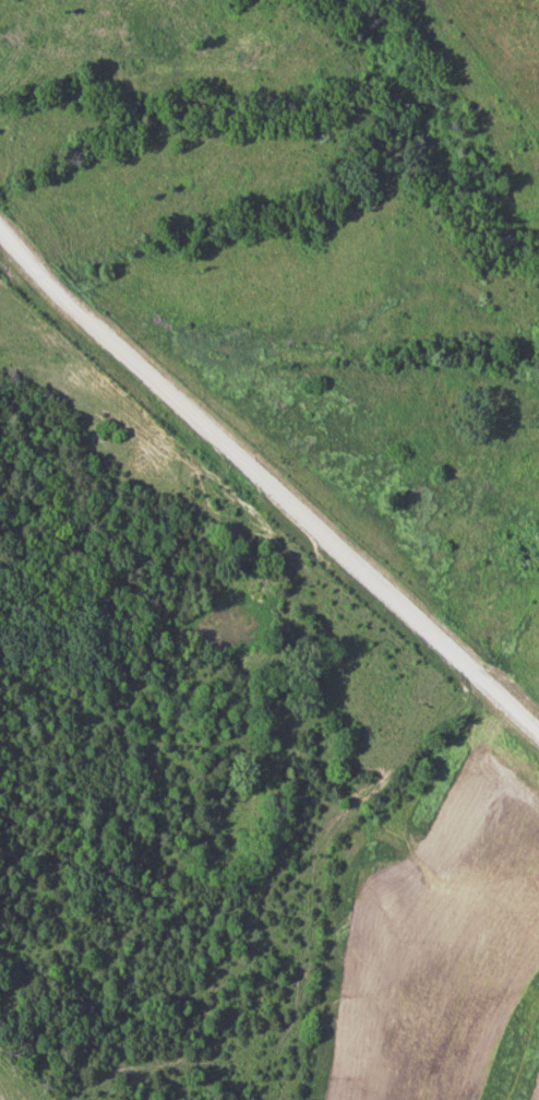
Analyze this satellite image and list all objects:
road: (266, 477)

